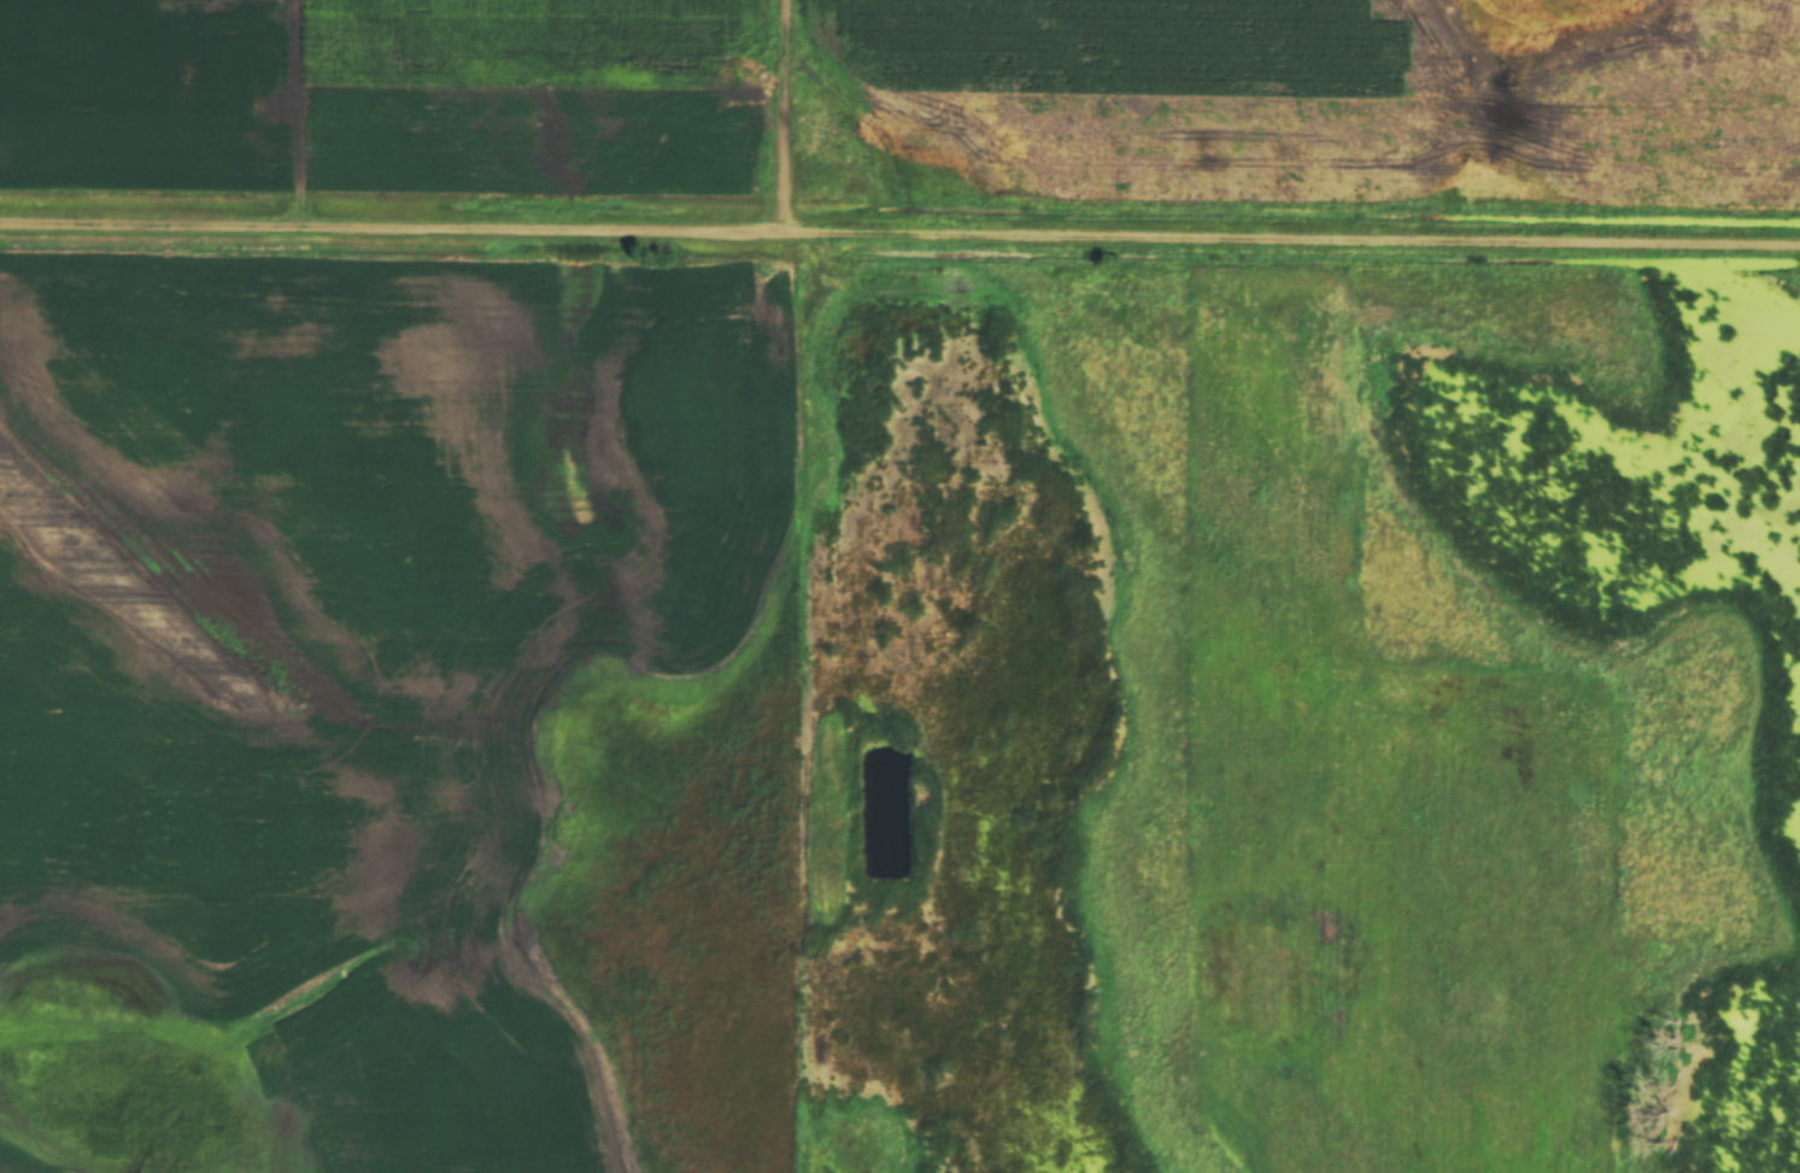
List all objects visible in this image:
road: (790, 117)
road: (899, 235)

